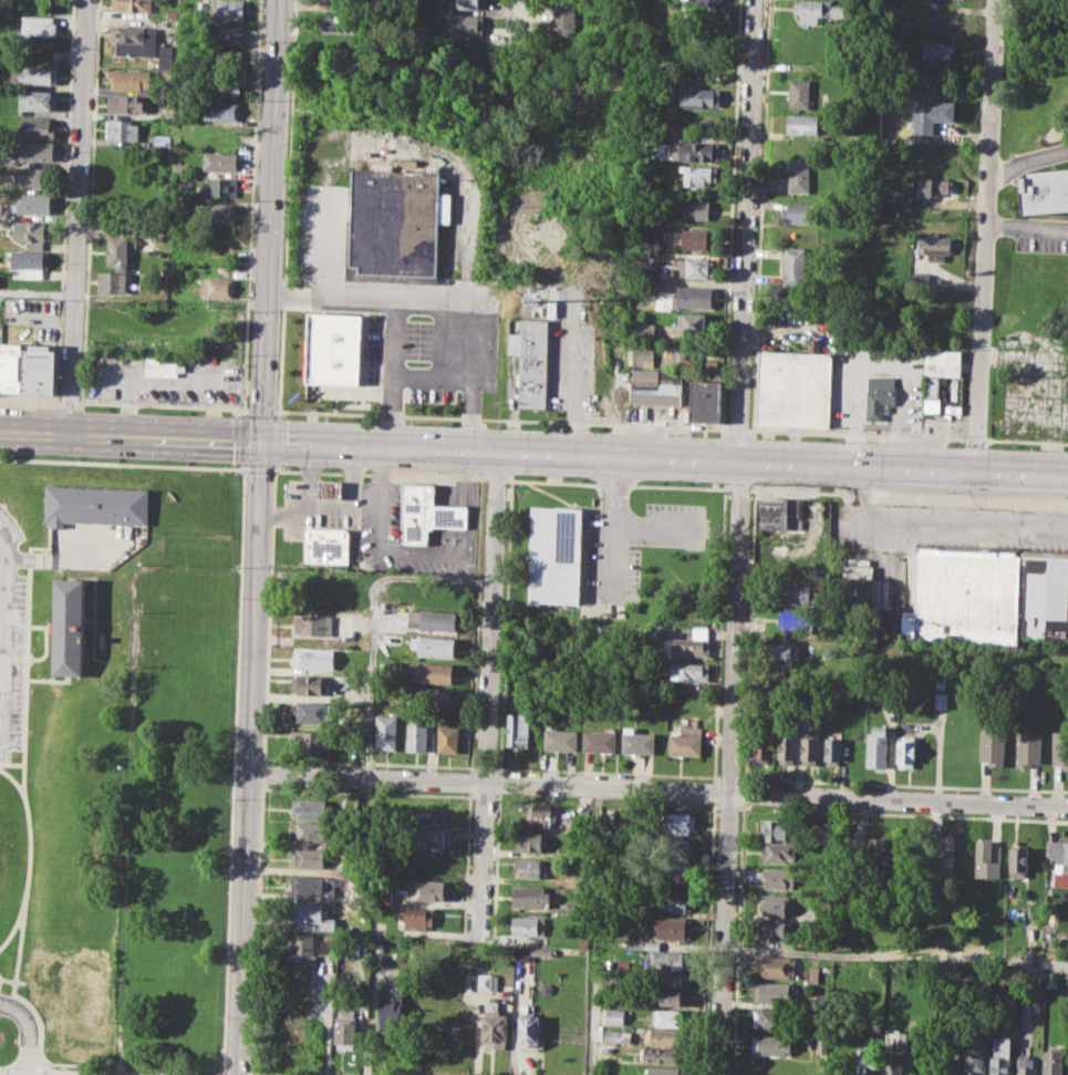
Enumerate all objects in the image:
building: (336, 0)
building: (708, 2)
building: (466, 3)
building: (132, 4)
building: (226, 9)
building: (818, 10)
road: (521, 11)
building: (564, 17)
building: (339, 23)
building: (463, 24)
building: (38, 25)
building: (225, 33)
building: (133, 40)
building: (932, 50)
building: (164, 54)
building: (224, 58)
building: (10, 72)
building: (39, 74)
building: (128, 79)
building: (225, 84)
building: (799, 93)
building: (696, 96)
building: (38, 100)
building: (125, 104)
building: (221, 110)
building: (932, 111)
building: (801, 124)
building: (38, 126)
building: (120, 130)
building: (32, 151)
building: (696, 151)
road: (1026, 159)
building: (220, 161)
building: (179, 167)
building: (699, 173)
building: (30, 176)
building: (798, 176)
building: (932, 184)
building: (221, 186)
building: (1046, 190)
building: (31, 204)
building: (3, 209)
building: (695, 210)
building: (217, 213)
building: (800, 213)
road: (76, 216)
building: (394, 221)
road: (1026, 226)
road: (744, 228)
building: (32, 232)
road: (984, 234)
parking lot: (1041, 235)
building: (694, 238)
building: (934, 247)
building: (116, 249)
building: (31, 262)
building: (795, 265)
building: (695, 267)
building: (111, 280)
building: (217, 287)
building: (693, 298)
road: (394, 308)
parking lot: (385, 321)
building: (694, 323)
road: (473, 334)
building: (333, 348)
building: (644, 355)
building: (684, 355)
building: (531, 359)
building: (0, 360)
building: (164, 366)
building: (11, 368)
building: (39, 370)
building: (942, 381)
building: (655, 386)
building: (792, 387)
building: (879, 395)
building: (705, 401)
traffic signals: (261, 441)
road: (533, 452)
road: (123, 463)
road: (258, 468)
road: (381, 474)
road: (496, 478)
road: (616, 486)
building: (330, 488)
road: (738, 488)
road: (906, 495)
building: (96, 505)
building: (426, 511)
building: (776, 511)
road: (935, 523)
road: (613, 525)
road: (655, 525)
road: (257, 537)
parking lot: (924, 541)
building: (324, 545)
parking lot: (635, 546)
building: (554, 555)
road: (49, 559)
road: (1, 579)
road: (1, 589)
building: (313, 589)
building: (801, 595)
building: (986, 596)
building: (363, 603)
road: (94, 608)
road: (268, 613)
road: (89, 618)
building: (797, 618)
building: (432, 619)
road: (373, 620)
road: (39, 624)
building: (312, 624)
building: (68, 626)
parking lot: (10, 634)
building: (687, 643)
building: (434, 645)
road: (45, 649)
building: (784, 651)
building: (313, 659)
road: (25, 660)
building: (689, 670)
building: (431, 671)
road: (49, 680)
building: (311, 684)
road: (488, 693)
building: (785, 693)
building: (433, 697)
building: (941, 700)
building: (310, 712)
building: (573, 716)
building: (518, 728)
building: (386, 731)
building: (416, 736)
building: (447, 737)
building: (559, 738)
building: (308, 740)
building: (600, 740)
building: (636, 741)
building: (684, 742)
building: (992, 745)
building: (877, 746)
building: (763, 747)
building: (809, 747)
building: (1027, 747)
building: (787, 748)
building: (1059, 748)
building: (833, 750)
building: (905, 752)
road: (11, 762)
road: (729, 766)
road: (262, 772)
road: (22, 782)
road: (657, 790)
building: (312, 808)
building: (538, 813)
building: (677, 823)
building: (774, 829)
building: (311, 831)
building: (432, 836)
building: (533, 843)
building: (676, 849)
building: (883, 850)
building: (778, 852)
building: (310, 857)
building: (943, 858)
building: (987, 859)
building: (1059, 860)
building: (1017, 862)
building: (431, 864)
building: (535, 868)
building: (676, 877)
building: (777, 877)
road: (24, 883)
building: (310, 885)
building: (434, 889)
building: (383, 895)
building: (529, 896)
building: (674, 901)
building: (777, 905)
building: (309, 911)
building: (415, 917)
road: (12, 924)
building: (528, 926)
building: (673, 927)
road: (256, 929)
building: (642, 943)
building: (325, 945)
building: (355, 945)
building: (301, 948)
building: (519, 953)
road: (896, 958)
building: (671, 959)
building: (775, 967)
building: (813, 973)
building: (672, 978)
road: (7, 979)
building: (484, 981)
building: (776, 993)
building: (74, 996)
building: (670, 996)
building: (390, 1004)
building: (614, 1015)
building: (668, 1016)
building: (771, 1019)
building: (291, 1026)
building: (345, 1026)
building: (494, 1026)
road: (27, 1032)
building: (529, 1032)
building: (613, 1035)
building: (665, 1036)
building: (771, 1044)
building: (662, 1055)
building: (1000, 1055)
building: (974, 1060)
building: (1054, 1060)
building: (864, 1062)
building: (890, 1062)
building: (910, 1063)
building: (951, 1064)
building: (1026, 1066)
building: (664, 1071)
road: (250, 1074)

